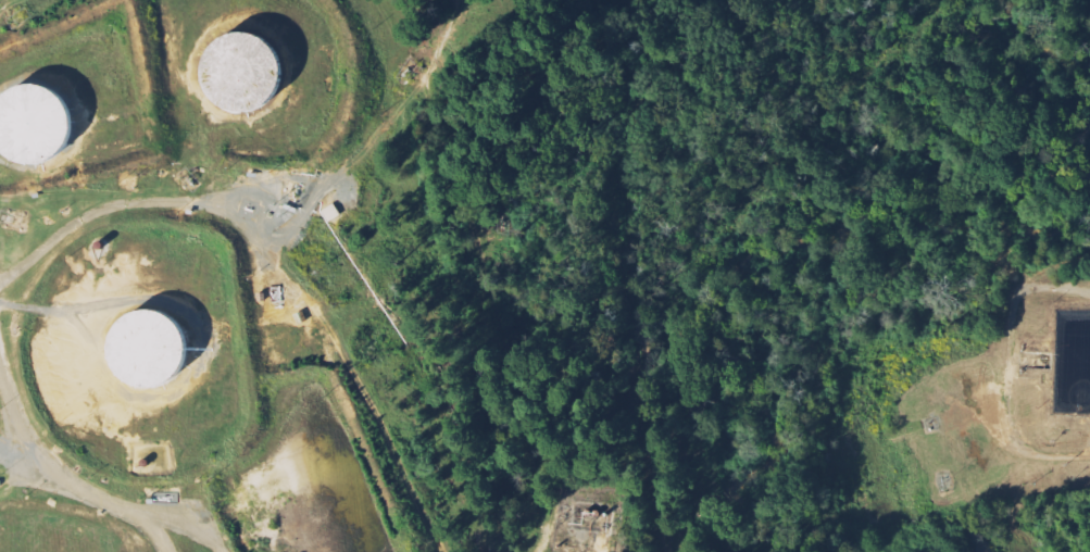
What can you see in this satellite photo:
road: (10, 5)
building: (243, 74)
road: (410, 87)
building: (34, 126)
road: (180, 202)
road: (1010, 369)
road: (64, 482)
road: (543, 535)

